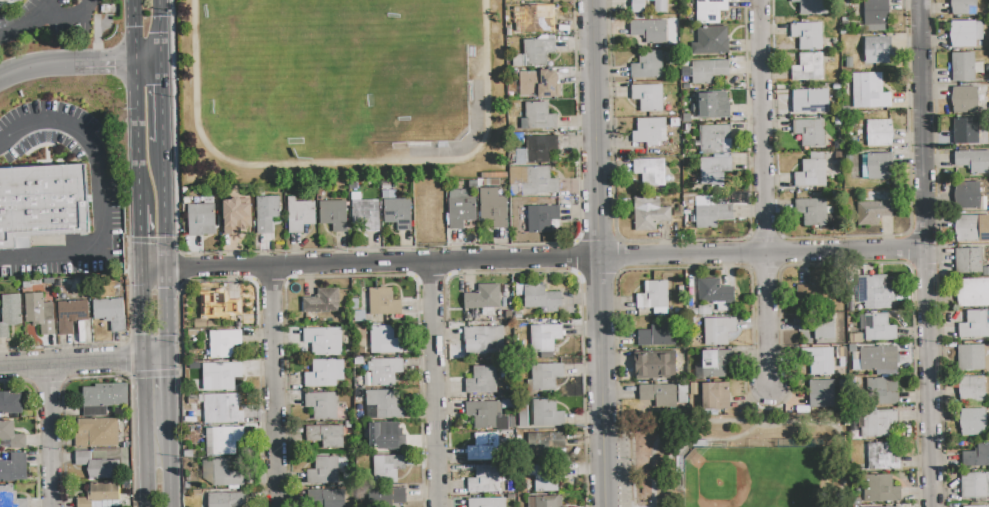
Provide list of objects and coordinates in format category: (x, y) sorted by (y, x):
building: (9, 1)
building: (638, 6)
building: (813, 7)
building: (963, 7)
road: (50, 10)
building: (710, 11)
building: (875, 15)
parking lot: (44, 19)
building: (532, 19)
road: (50, 20)
traffic signals: (133, 27)
road: (161, 31)
building: (649, 31)
building: (965, 33)
building: (808, 36)
building: (709, 42)
building: (878, 50)
street lamp: (931, 51)
building: (534, 53)
traffic signals: (113, 63)
road: (122, 63)
building: (647, 65)
road: (40, 66)
building: (808, 67)
building: (963, 67)
building: (708, 71)
park: (346, 82)
building: (539, 83)
traffic signals: (162, 85)
street lamp: (748, 90)
building: (869, 91)
building: (648, 97)
building: (964, 100)
building: (810, 101)
road: (134, 102)
road: (162, 102)
building: (712, 104)
building: (539, 116)
road: (928, 125)
road: (596, 129)
building: (968, 131)
street lamp: (578, 132)
building: (810, 132)
building: (649, 133)
building: (879, 133)
building: (715, 138)
street lamp: (932, 149)
building: (539, 151)
building: (973, 161)
building: (876, 166)
building: (819, 169)
building: (650, 171)
building: (714, 171)
building: (532, 181)
parking lot: (59, 191)
building: (965, 195)
road: (763, 196)
road: (104, 198)
road: (165, 206)
building: (41, 208)
building: (461, 208)
building: (812, 211)
building: (493, 212)
building: (872, 212)
building: (266, 213)
building: (398, 213)
building: (649, 213)
building: (300, 214)
building: (366, 214)
building: (334, 215)
building: (712, 215)
building: (237, 217)
building: (543, 219)
building: (201, 220)
building: (967, 229)
street lamp: (125, 235)
road: (841, 236)
road: (139, 237)
traffic signals: (140, 238)
street lamp: (578, 238)
road: (617, 238)
road: (763, 238)
road: (151, 240)
road: (679, 240)
street lamp: (935, 245)
road: (371, 250)
street lamp: (444, 250)
road: (906, 250)
road: (937, 253)
street lamp: (286, 254)
road: (762, 255)
building: (968, 261)
road: (381, 263)
road: (764, 268)
road: (187, 269)
road: (154, 270)
road: (515, 271)
road: (431, 275)
road: (351, 276)
road: (218, 277)
road: (269, 283)
traffic signals: (169, 289)
building: (972, 292)
building: (810, 293)
building: (872, 293)
building: (715, 294)
building: (653, 295)
building: (483, 297)
building: (541, 298)
building: (322, 301)
building: (384, 302)
building: (220, 304)
building: (10, 313)
building: (39, 313)
building: (110, 313)
road: (169, 313)
road: (141, 314)
building: (73, 317)
building: (200, 323)
building: (975, 324)
building: (211, 325)
building: (817, 327)
building: (878, 327)
building: (718, 331)
traffic signals: (142, 334)
building: (657, 336)
building: (545, 337)
building: (384, 339)
building: (484, 340)
building: (323, 341)
road: (599, 342)
road: (113, 343)
building: (224, 343)
street lamp: (938, 343)
road: (157, 357)
building: (973, 357)
building: (879, 358)
road: (127, 359)
traffic signals: (125, 360)
building: (825, 361)
road: (72, 362)
building: (713, 363)
building: (656, 365)
street lamp: (179, 369)
building: (385, 371)
building: (325, 374)
building: (221, 376)
building: (545, 377)
road: (154, 378)
road: (931, 378)
street lamp: (127, 380)
traffic signals: (172, 380)
building: (482, 380)
road: (434, 384)
road: (46, 386)
road: (273, 386)
building: (972, 388)
building: (883, 392)
building: (821, 394)
building: (659, 396)
building: (716, 396)
building: (105, 399)
road: (172, 399)
building: (10, 403)
building: (383, 404)
building: (323, 405)
building: (221, 409)
road: (763, 409)
building: (547, 413)
building: (485, 414)
road: (130, 416)
road: (763, 417)
road: (750, 423)
building: (878, 423)
building: (972, 423)
street lamp: (586, 428)
road: (35, 431)
road: (145, 432)
building: (97, 433)
building: (12, 435)
road: (55, 435)
building: (326, 435)
building: (381, 435)
road: (64, 438)
street lamp: (941, 440)
building: (222, 441)
road: (728, 442)
building: (544, 443)
building: (484, 447)
street lamp: (424, 454)
street lamp: (181, 456)
building: (976, 456)
building: (880, 457)
street lamp: (630, 461)
park: (741, 461)
parking lot: (621, 465)
building: (98, 466)
road: (604, 466)
building: (14, 468)
building: (387, 468)
building: (324, 471)
building: (223, 472)
road: (822, 472)
road: (173, 474)
building: (547, 476)
park: (751, 477)
building: (485, 480)
building: (974, 485)
building: (880, 489)
building: (100, 496)
building: (386, 497)
building: (10, 498)
building: (334, 498)
building: (227, 499)
building: (545, 502)
building: (487, 503)
building: (897, 506)
building: (975, 506)

